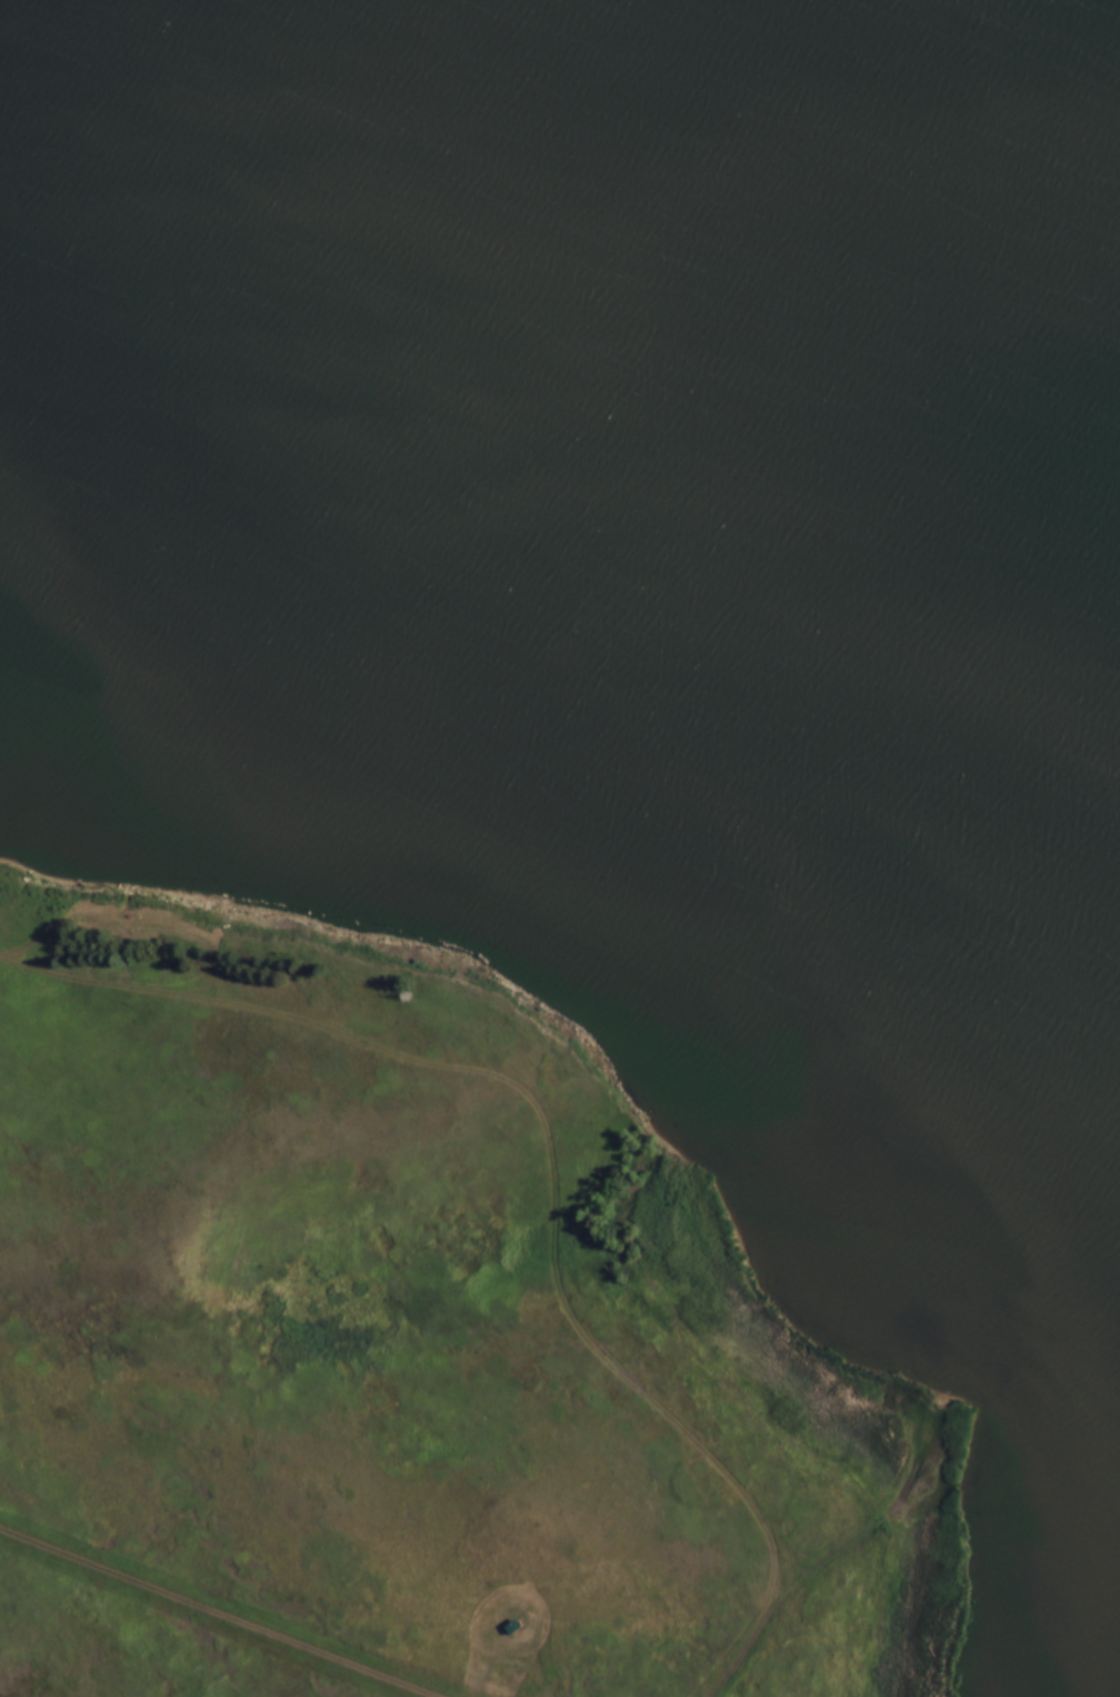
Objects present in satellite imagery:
road: (556, 1162)
road: (217, 1612)

